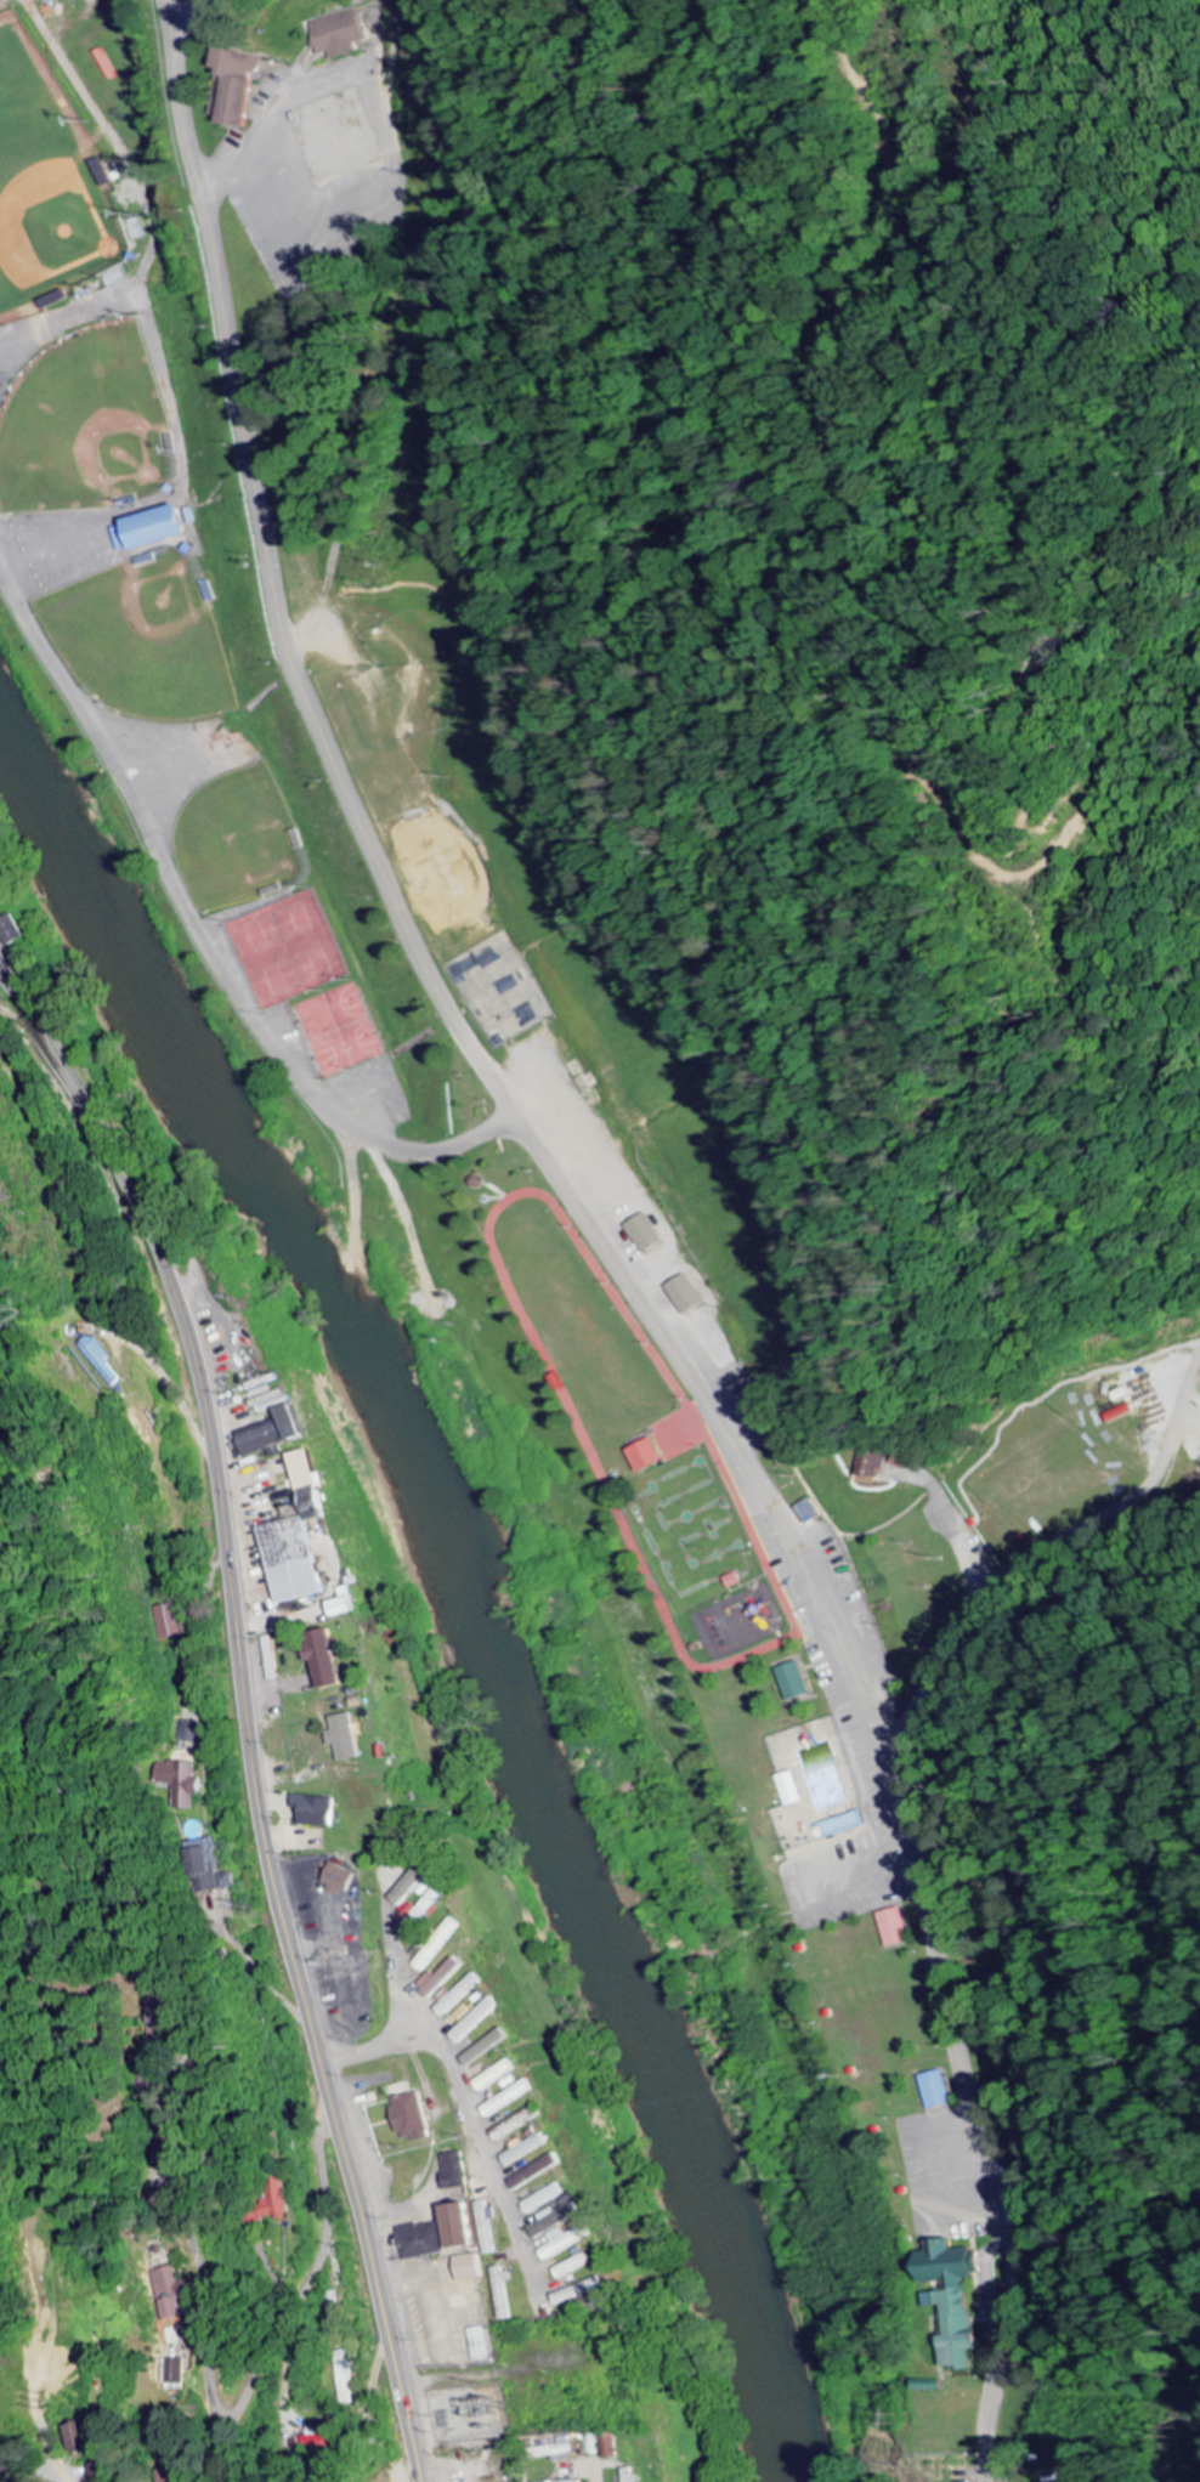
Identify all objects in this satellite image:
road: (180, 11)
building: (341, 35)
building: (238, 86)
park: (51, 191)
park: (84, 425)
building: (155, 532)
park: (141, 637)
park: (236, 841)
building: (19, 935)
road: (203, 935)
park: (288, 950)
park: (496, 990)
park: (336, 1028)
road: (599, 1242)
building: (687, 1296)
building: (101, 1360)
building: (278, 1433)
track: (643, 1441)
building: (651, 1456)
building: (871, 1464)
building: (305, 1535)
river: (459, 1576)
building: (351, 1603)
building: (172, 1621)
park: (717, 1632)
building: (330, 1659)
building: (798, 1682)
road: (244, 1712)
building: (349, 1738)
building: (182, 1783)
building: (794, 1790)
building: (318, 1810)
building: (215, 1869)
building: (346, 1880)
parking lot: (838, 1881)
building: (417, 1887)
building: (430, 1910)
building: (898, 1928)
building: (431, 1956)
building: (458, 1997)
building: (163, 2008)
building: (480, 2021)
building: (491, 2047)
building: (500, 2075)
building: (939, 2091)
building: (415, 2118)
building: (527, 2149)
building: (458, 2171)
building: (539, 2172)
building: (547, 2199)
building: (278, 2204)
building: (556, 2221)
building: (465, 2227)
building: (489, 2228)
building: (425, 2242)
building: (567, 2242)
building: (576, 2267)
building: (472, 2268)
building: (169, 2293)
building: (583, 2293)
building: (503, 2294)
building: (958, 2299)
building: (483, 2345)
building: (175, 2373)
building: (346, 2384)
building: (936, 2386)
power tower: (50, 2403)
power substation: (470, 2414)
power tower: (906, 2416)
power tower: (1177, 2430)
building: (87, 2438)
building: (632, 2475)
building: (579, 2481)

